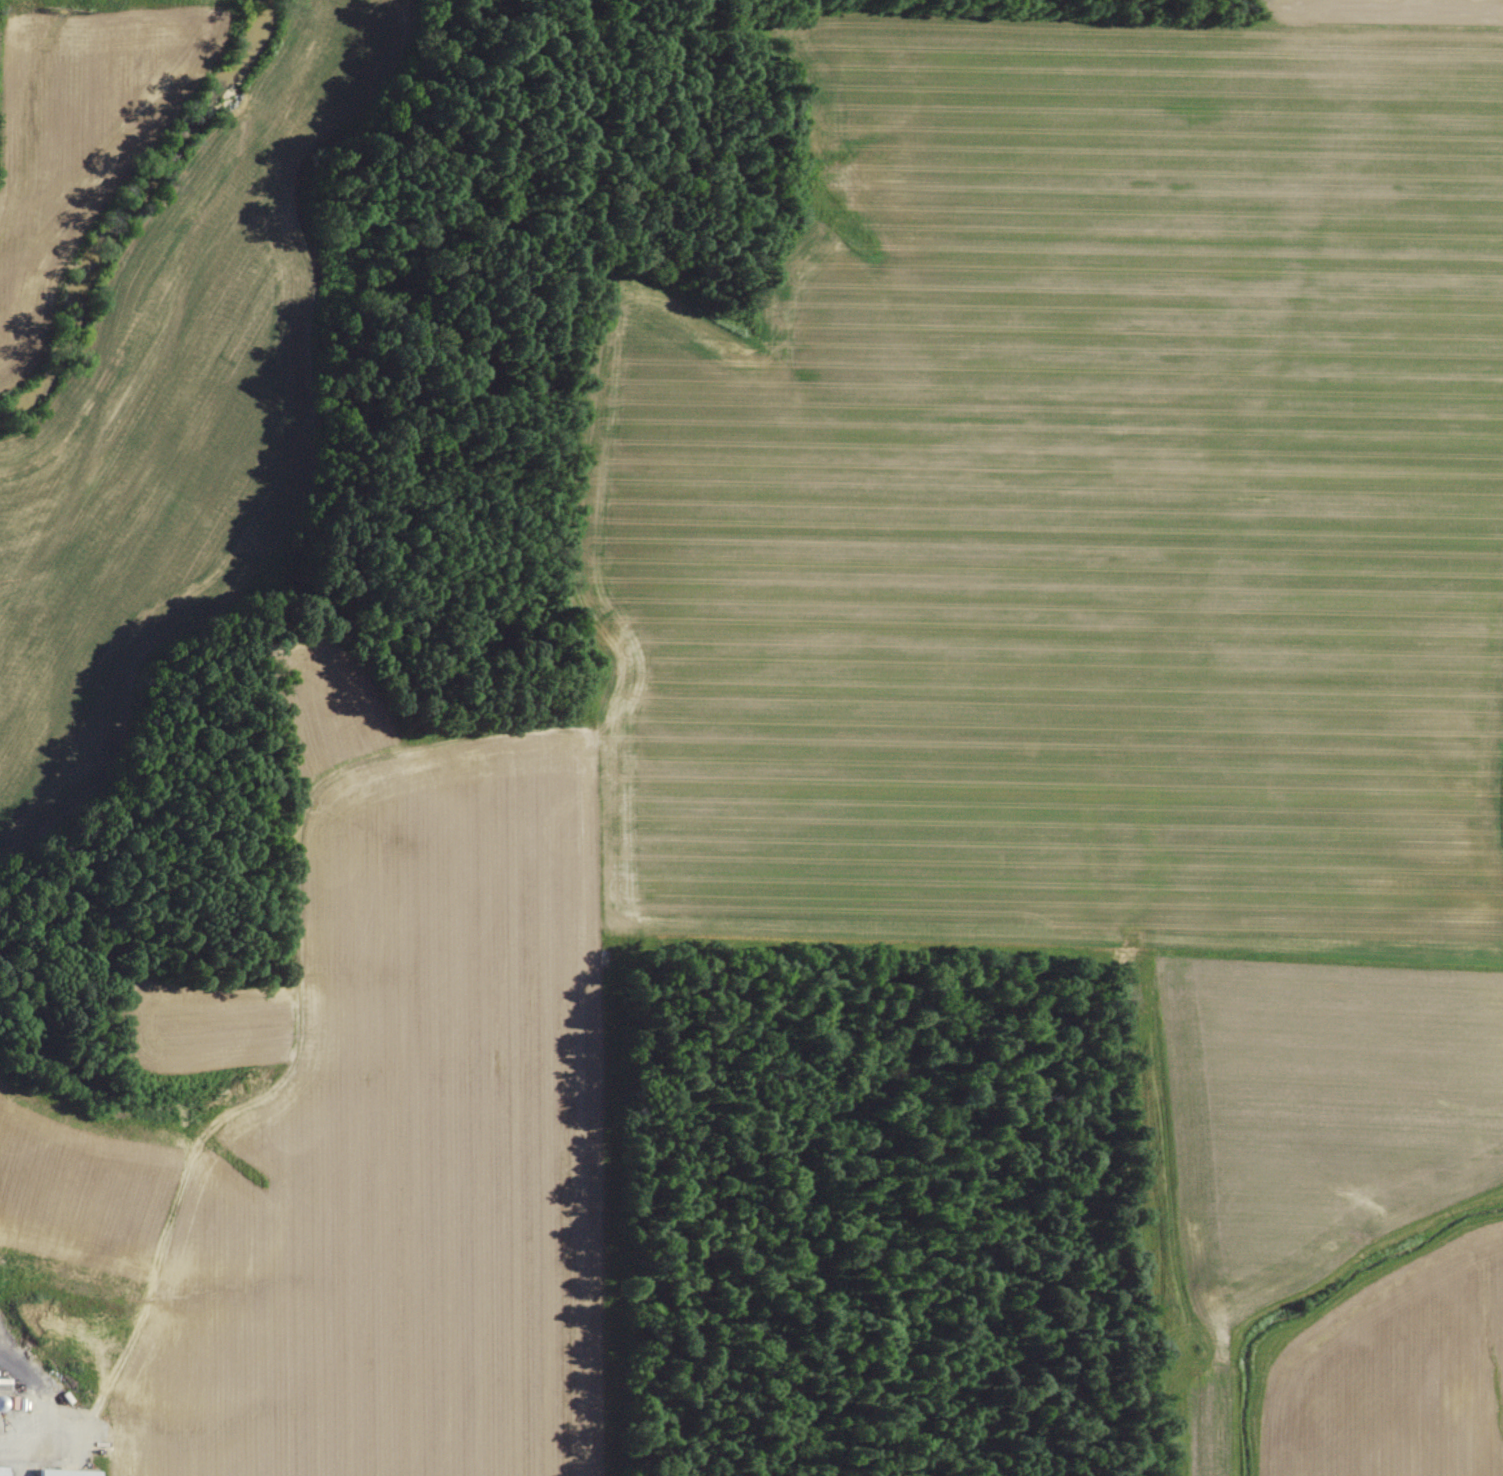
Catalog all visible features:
road: (297, 1008)
road: (37, 1448)
building: (2, 1471)
building: (65, 1473)

